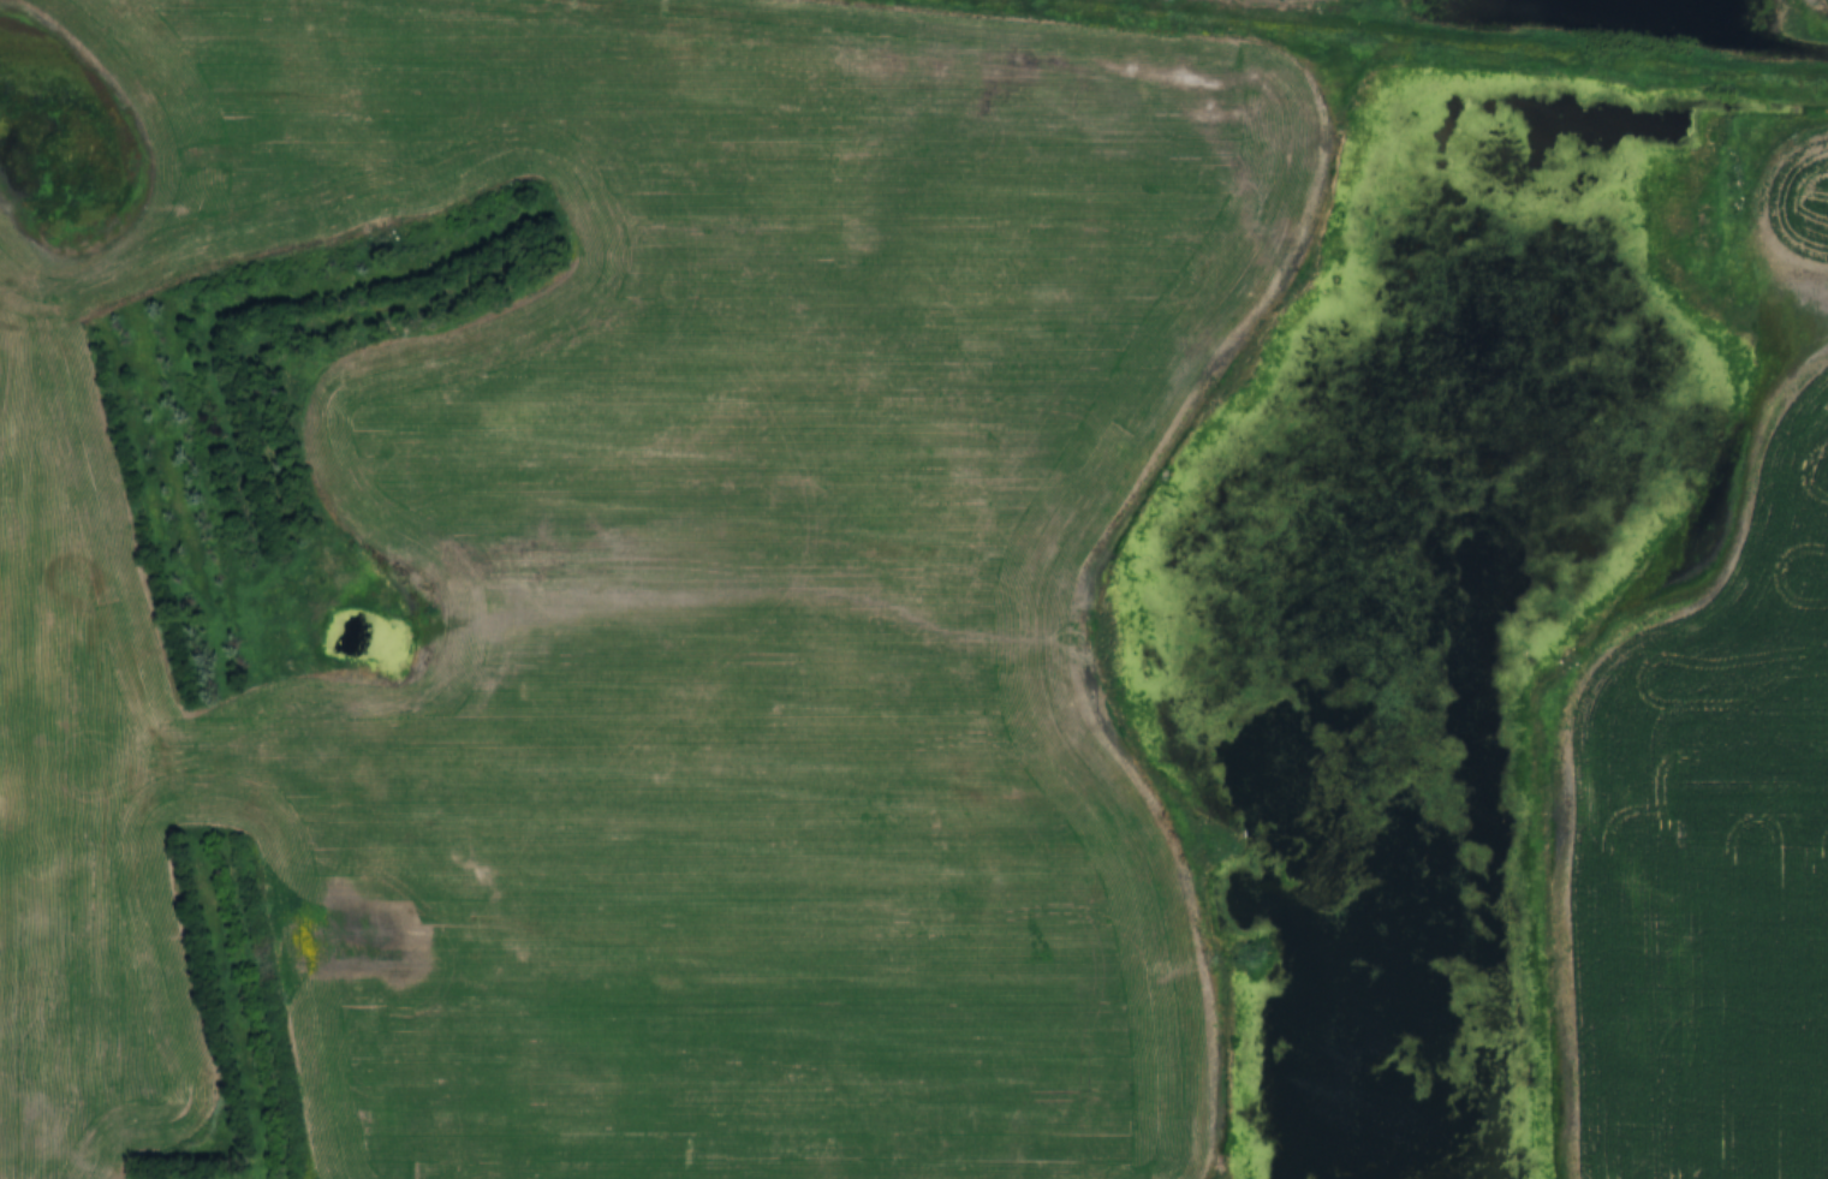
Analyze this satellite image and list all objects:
railway: (1211, 22)

